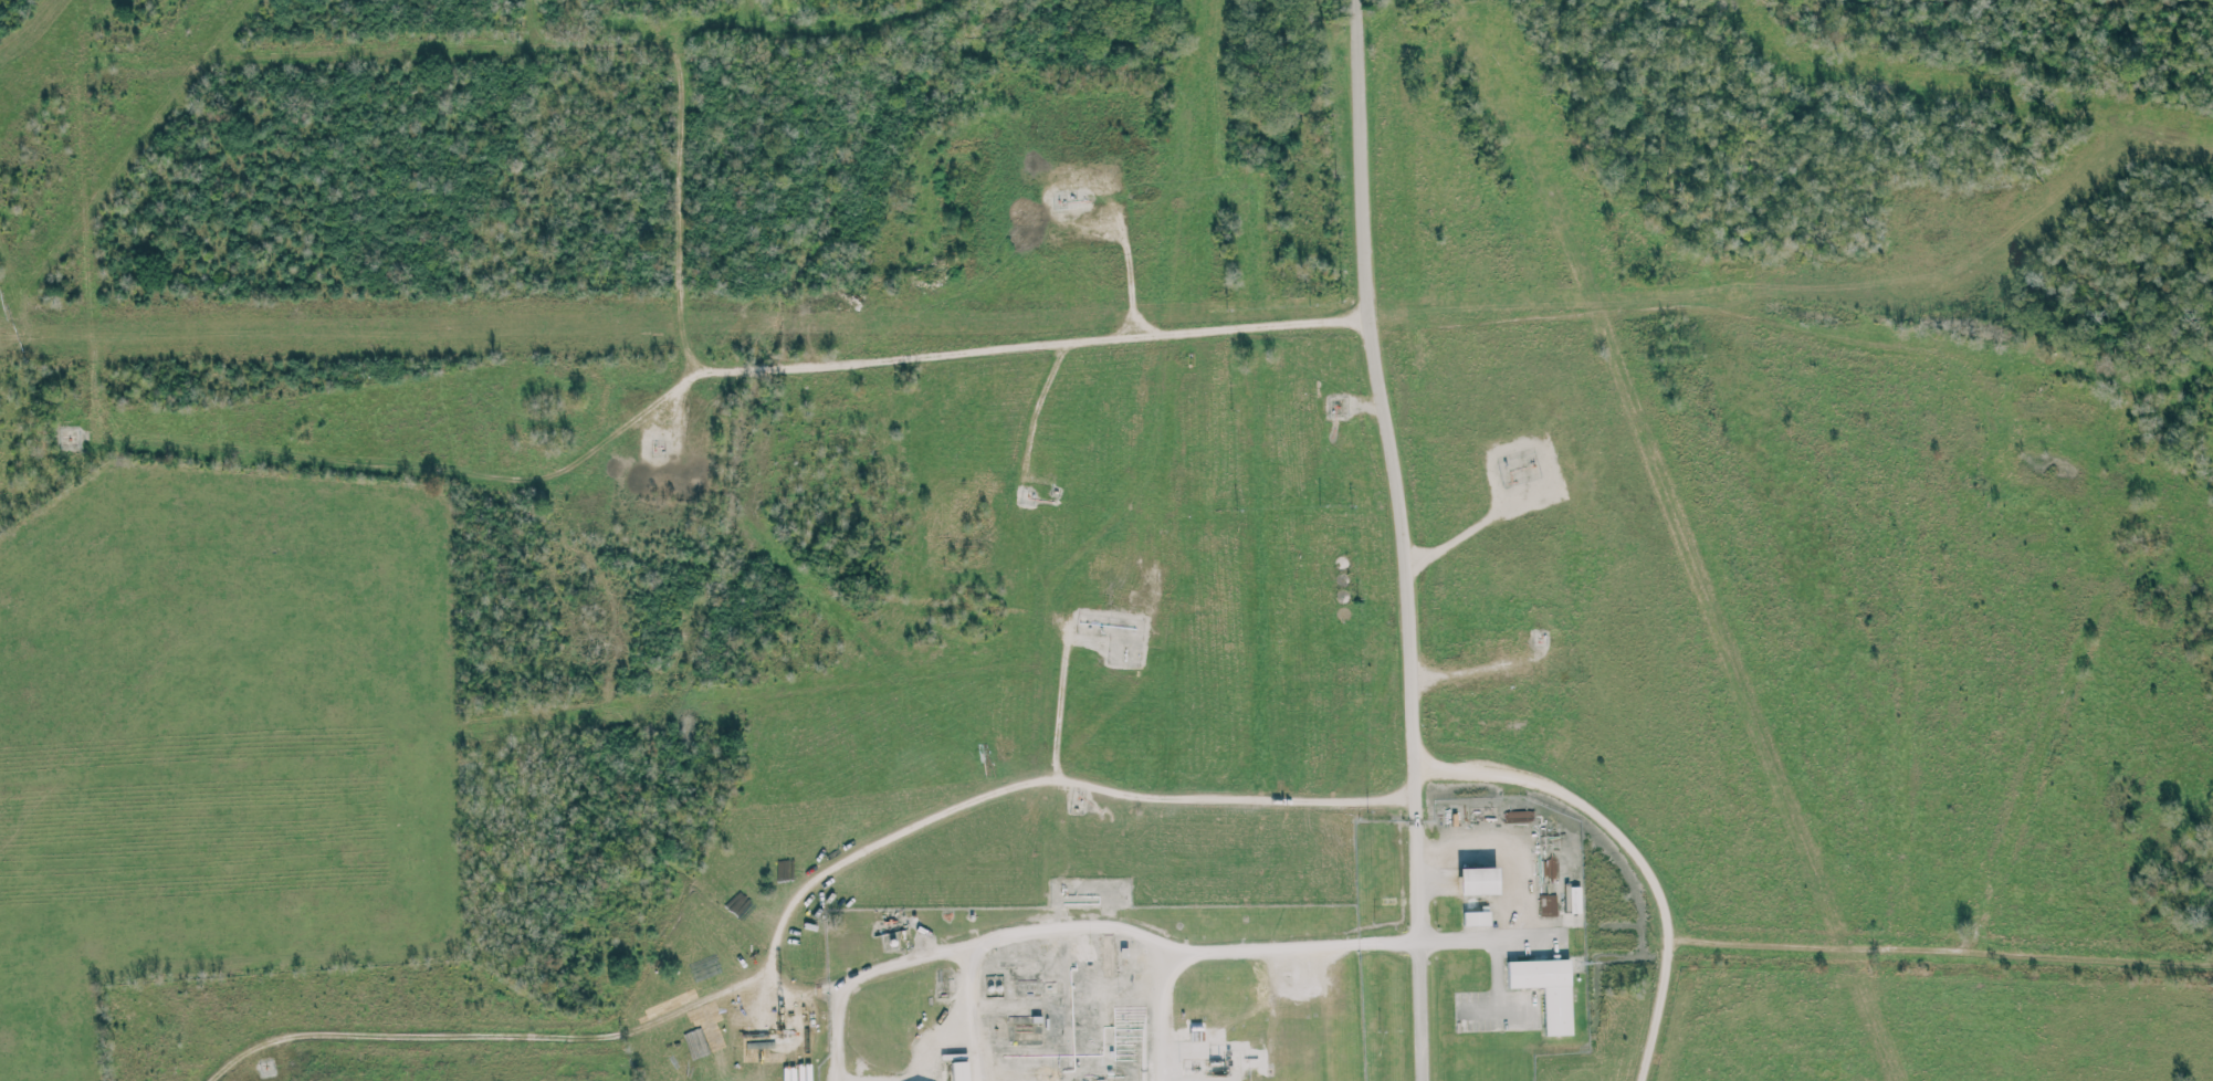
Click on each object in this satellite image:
road: (686, 206)
road: (226, 440)
road: (1402, 539)
road: (1509, 844)
road: (1633, 851)
building: (1477, 880)
road: (788, 898)
building: (1572, 898)
building: (1476, 917)
road: (1081, 925)
road: (1487, 938)
road: (1497, 974)
building: (1546, 989)
road: (1498, 1010)
road: (1160, 1012)
road: (958, 1022)
building: (957, 1071)
road: (849, 1080)

